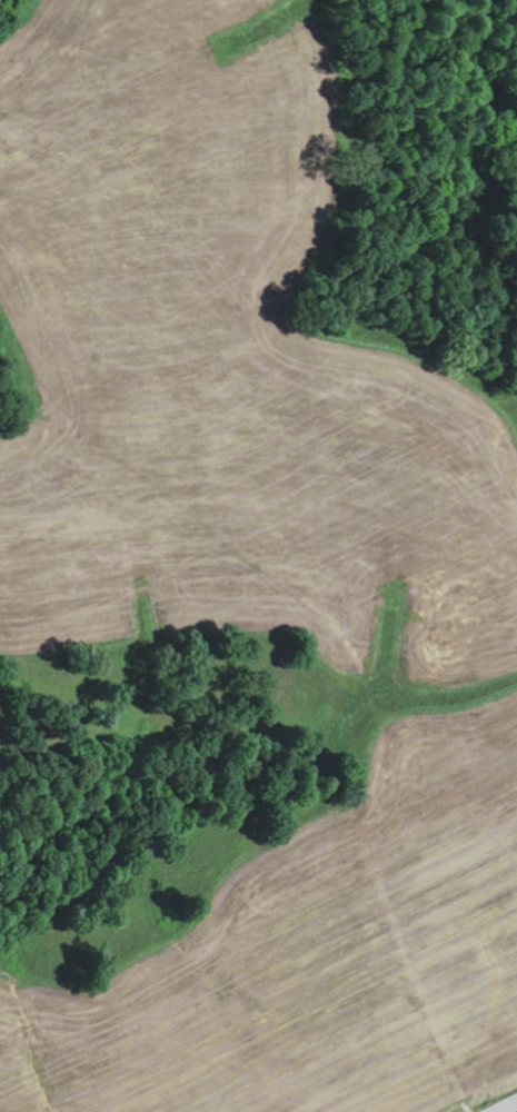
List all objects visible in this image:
road: (510, 1109)

